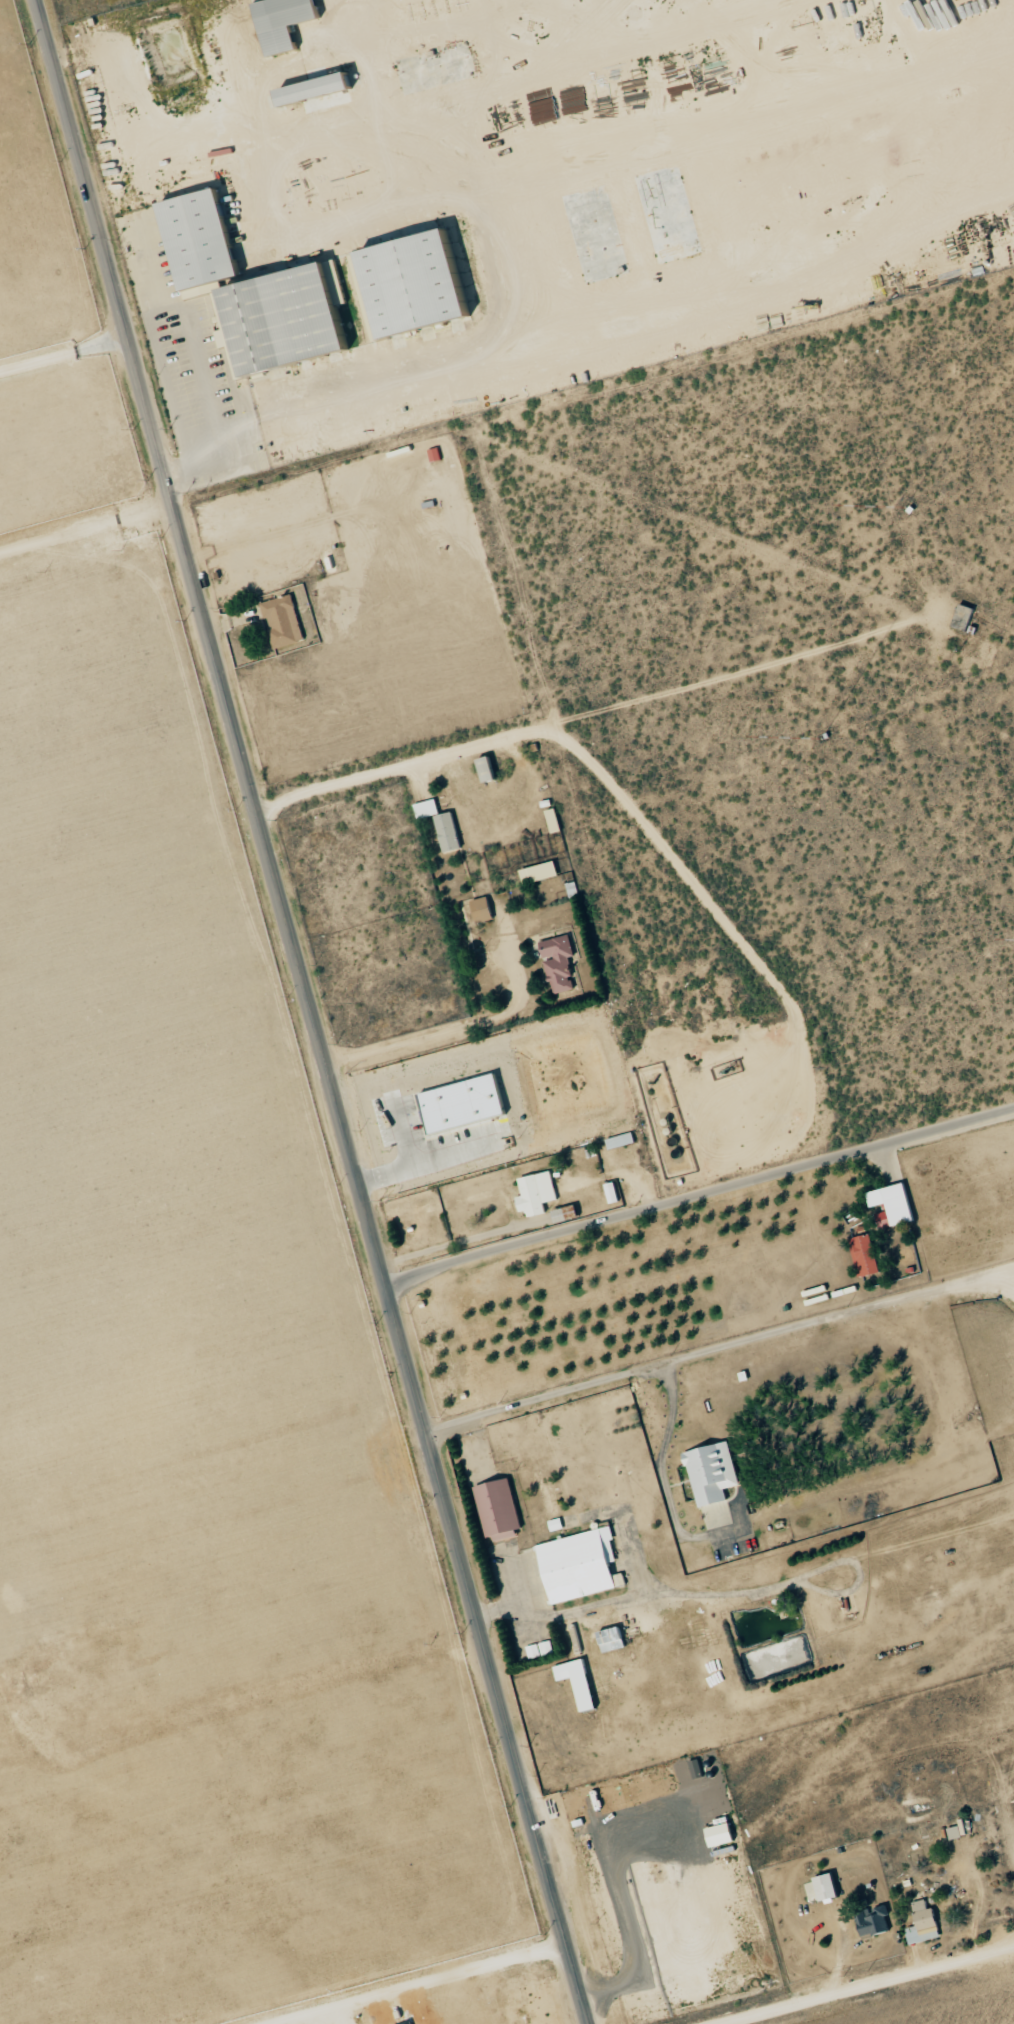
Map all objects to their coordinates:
building: (288, 21)
building: (322, 87)
building: (205, 240)
building: (424, 282)
building: (291, 318)
road: (506, 409)
building: (965, 617)
building: (285, 621)
road: (635, 810)
building: (450, 832)
building: (485, 910)
building: (561, 963)
road: (314, 1012)
road: (451, 1030)
building: (468, 1103)
building: (621, 1136)
building: (538, 1193)
road: (699, 1194)
building: (894, 1206)
building: (867, 1256)
road: (1005, 1272)
road: (1005, 1279)
road: (712, 1350)
building: (715, 1472)
building: (500, 1507)
building: (564, 1523)
building: (583, 1564)
road: (715, 1596)
building: (614, 1639)
building: (581, 1682)
building: (723, 1834)
building: (830, 1887)
building: (925, 1924)
road: (872, 1985)

